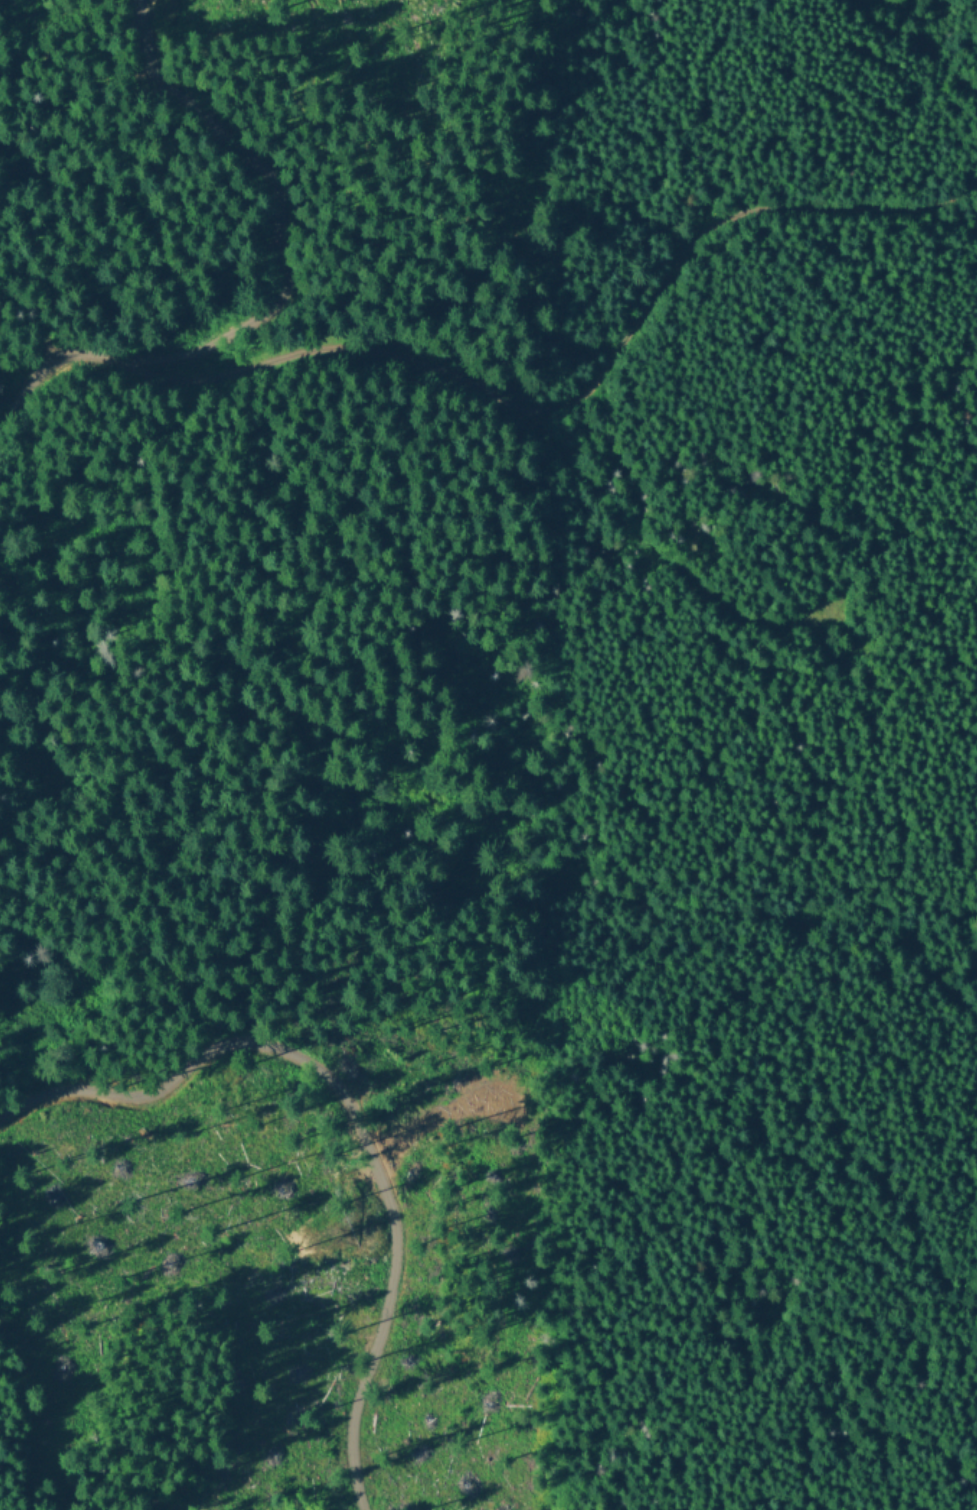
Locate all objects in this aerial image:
road: (371, 1103)

